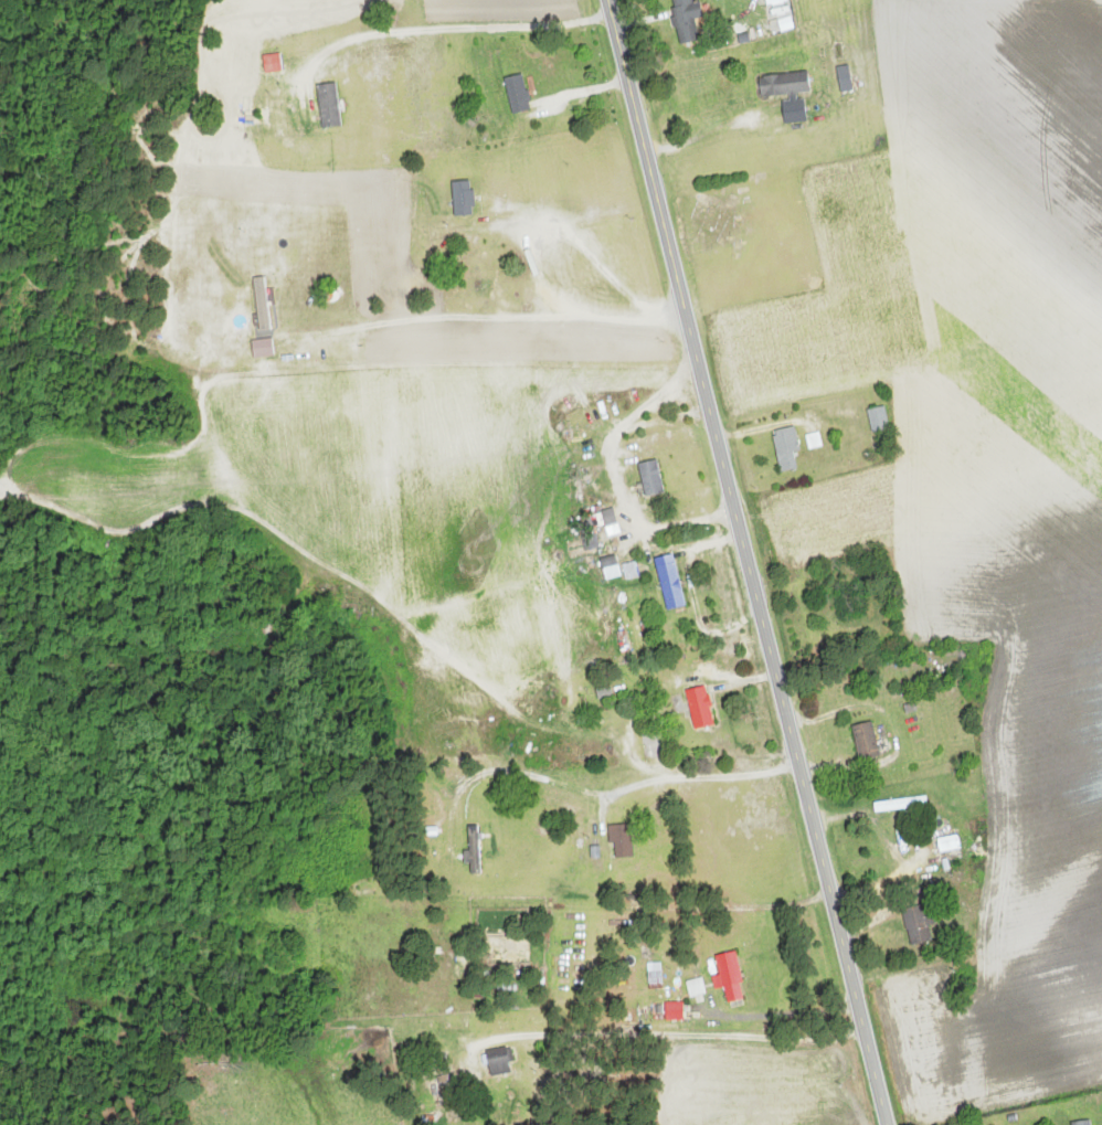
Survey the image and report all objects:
building: (686, 20)
building: (844, 78)
building: (784, 84)
building: (517, 93)
building: (328, 105)
road: (271, 168)
building: (463, 198)
road: (834, 383)
building: (878, 418)
building: (786, 447)
road: (896, 469)
building: (650, 478)
road: (746, 562)
building: (608, 563)
building: (631, 571)
building: (670, 586)
building: (849, 604)
building: (700, 708)
road: (826, 713)
building: (866, 741)
building: (896, 839)
building: (621, 841)
building: (475, 851)
building: (918, 926)
building: (730, 978)
building: (674, 1012)
road: (600, 1027)
building: (499, 1062)
building: (1082, 1123)

